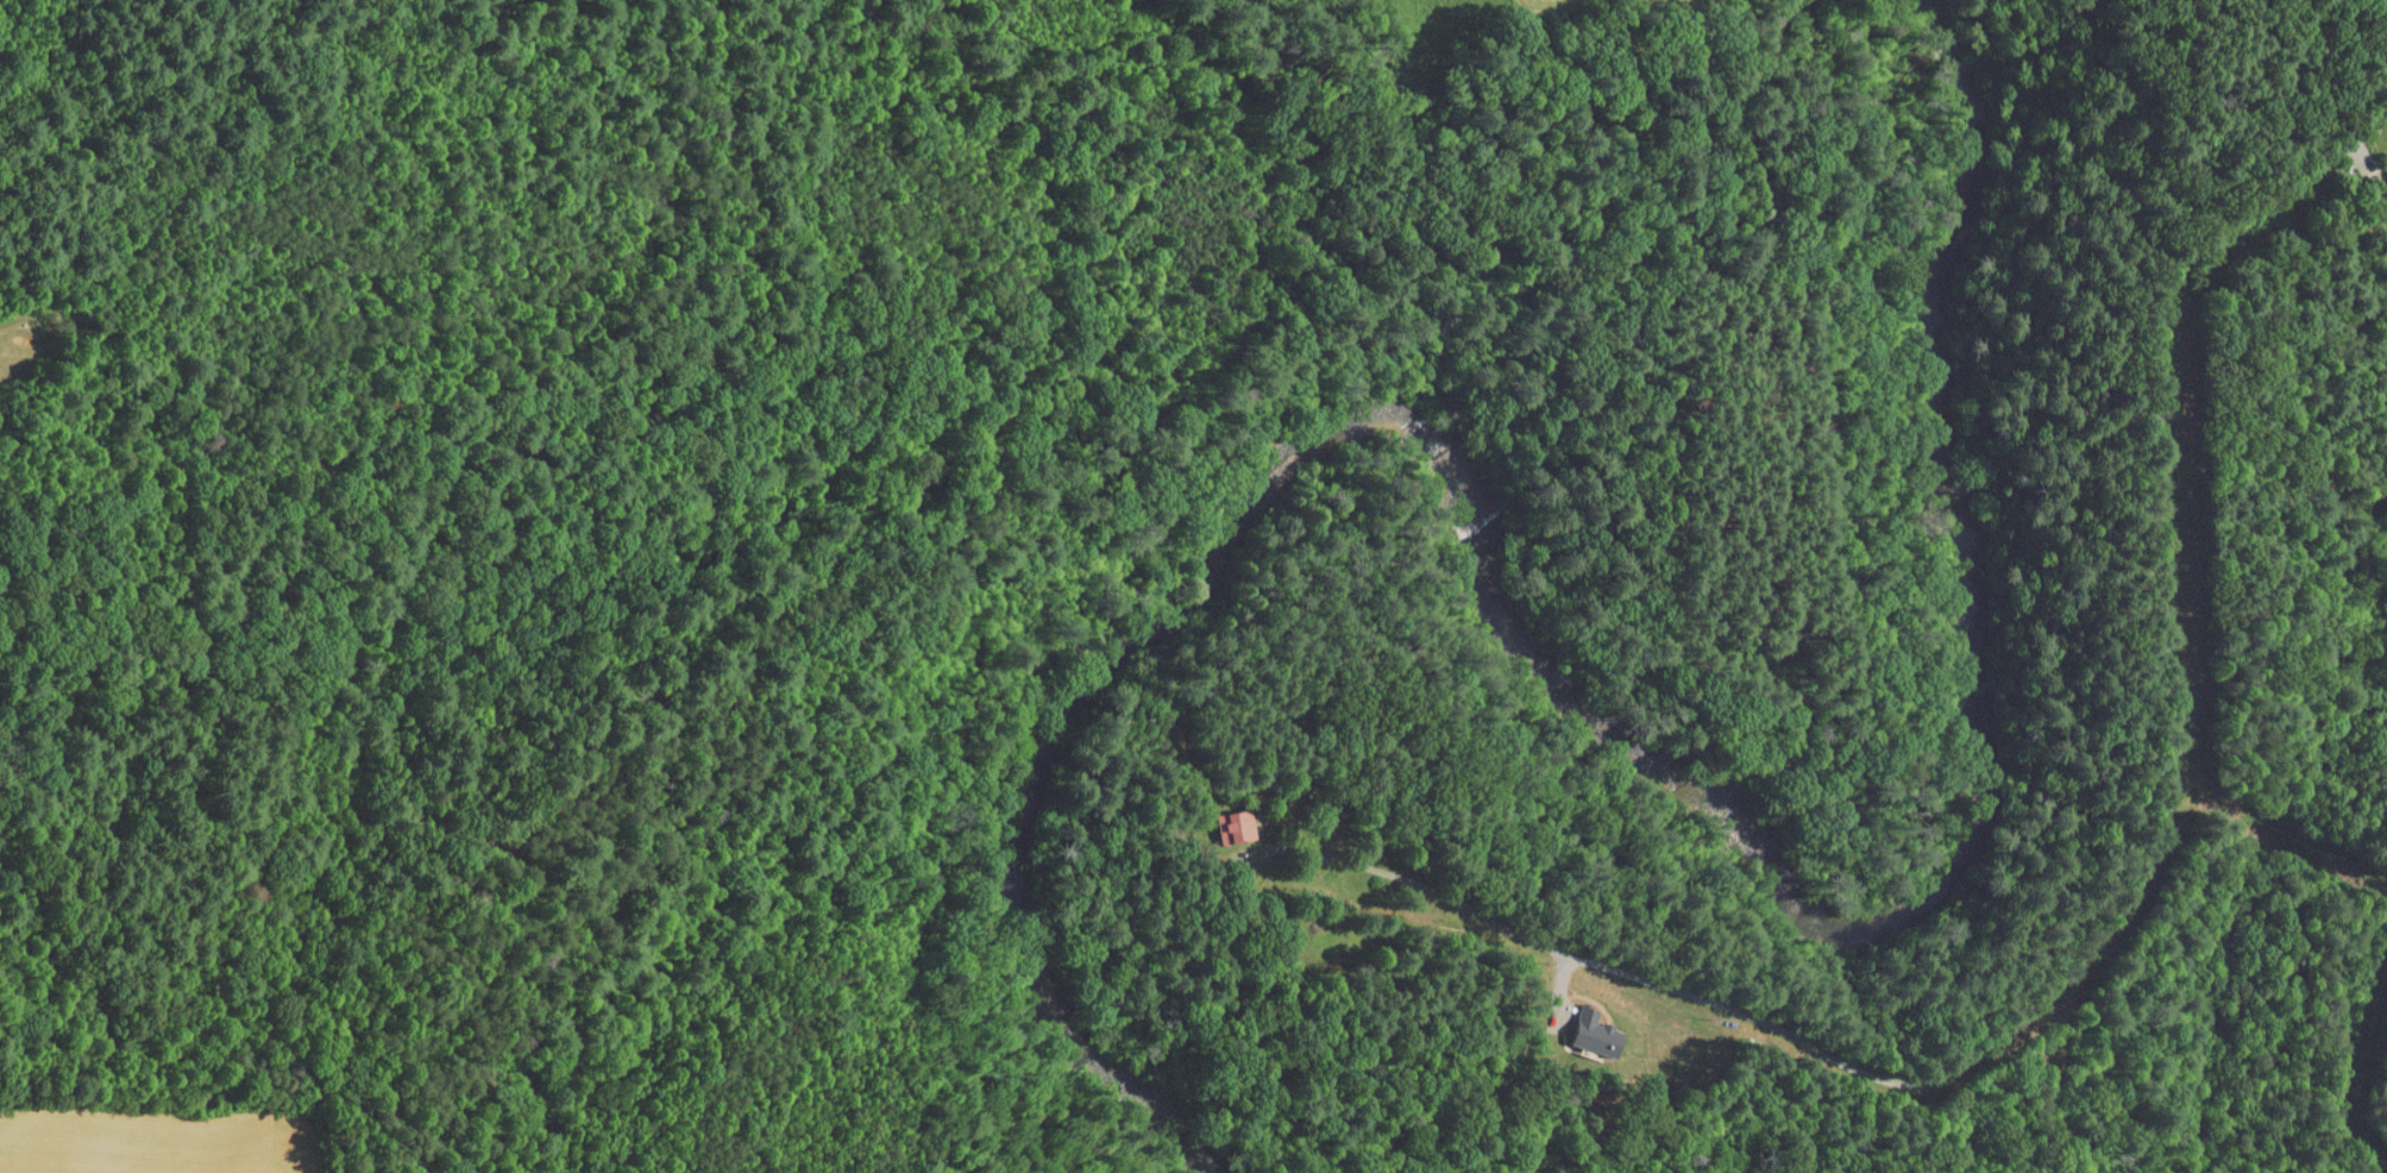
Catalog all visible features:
river: (1983, 146)
building: (2379, 167)
building: (1217, 816)
river: (1777, 864)
road: (2138, 877)
river: (1039, 887)
building: (1576, 1025)
road: (2342, 1034)

